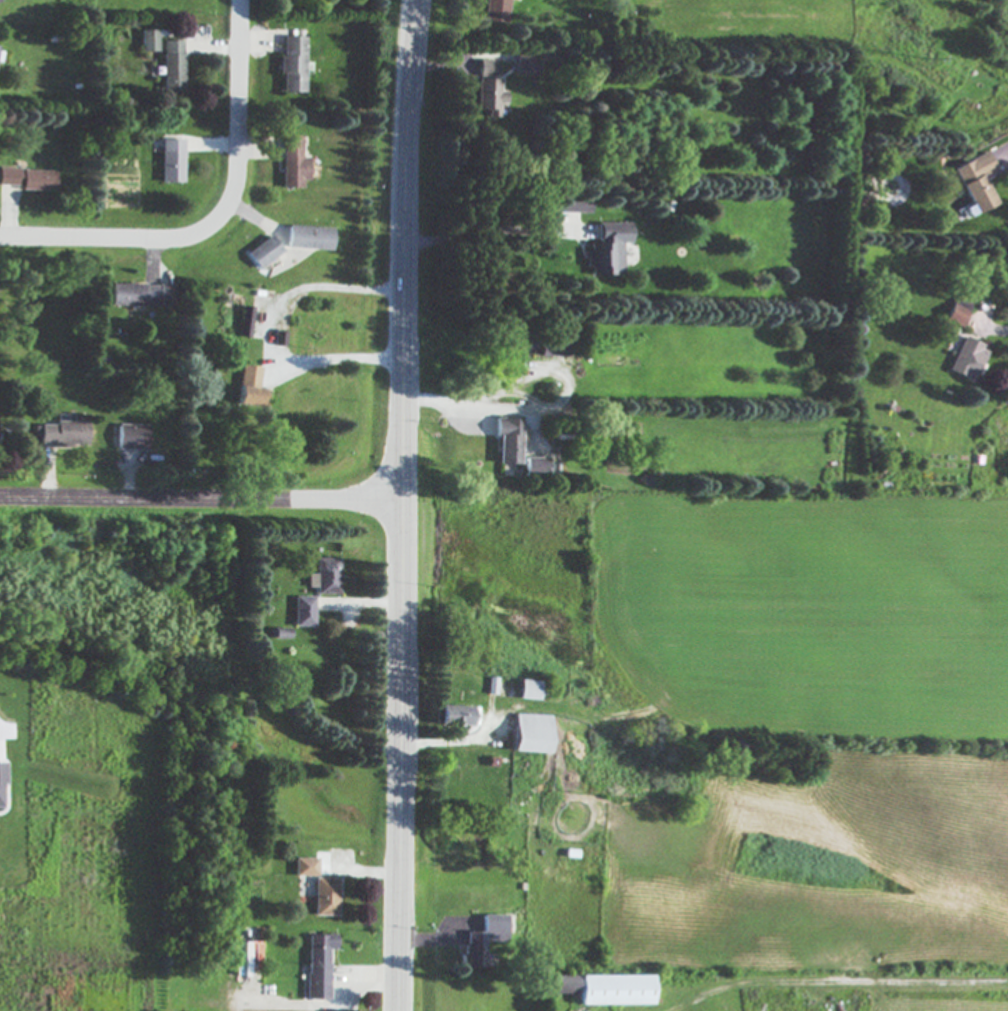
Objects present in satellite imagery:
building: (496, 11)
building: (148, 41)
building: (523, 64)
building: (292, 65)
building: (171, 66)
building: (486, 69)
building: (489, 97)
building: (170, 162)
road: (240, 163)
building: (292, 164)
building: (26, 179)
building: (975, 185)
building: (574, 206)
road: (59, 234)
building: (307, 238)
building: (609, 250)
building: (262, 253)
building: (140, 296)
building: (957, 313)
building: (243, 322)
road: (268, 329)
building: (551, 349)
building: (967, 360)
building: (246, 377)
building: (245, 397)
road: (441, 402)
building: (62, 435)
building: (131, 438)
building: (506, 441)
building: (534, 466)
road: (200, 495)
road: (401, 505)
building: (323, 577)
building: (302, 612)
building: (526, 691)
building: (455, 717)
building: (528, 735)
building: (0, 782)
building: (305, 868)
building: (325, 898)
building: (481, 941)
building: (251, 959)
building: (318, 967)
building: (561, 986)
building: (614, 992)

